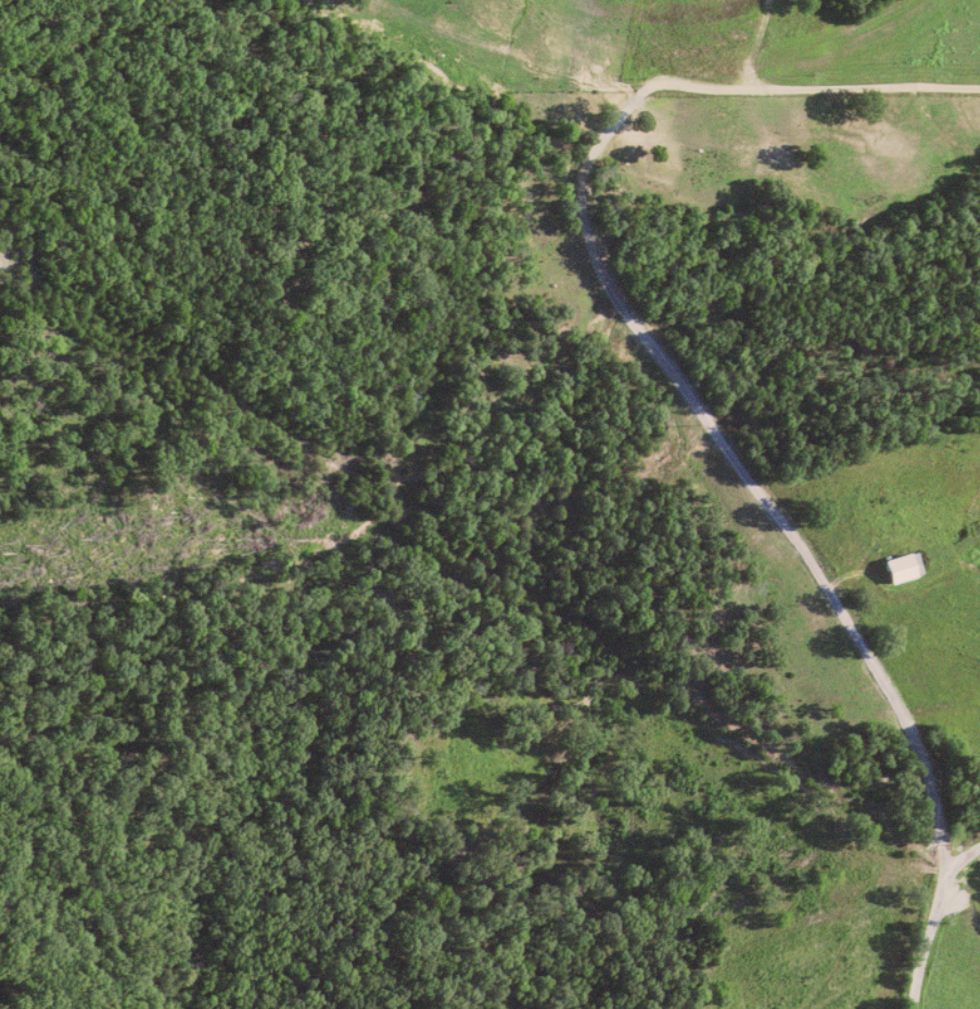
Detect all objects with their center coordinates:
road: (645, 335)
building: (901, 566)
road: (935, 919)

